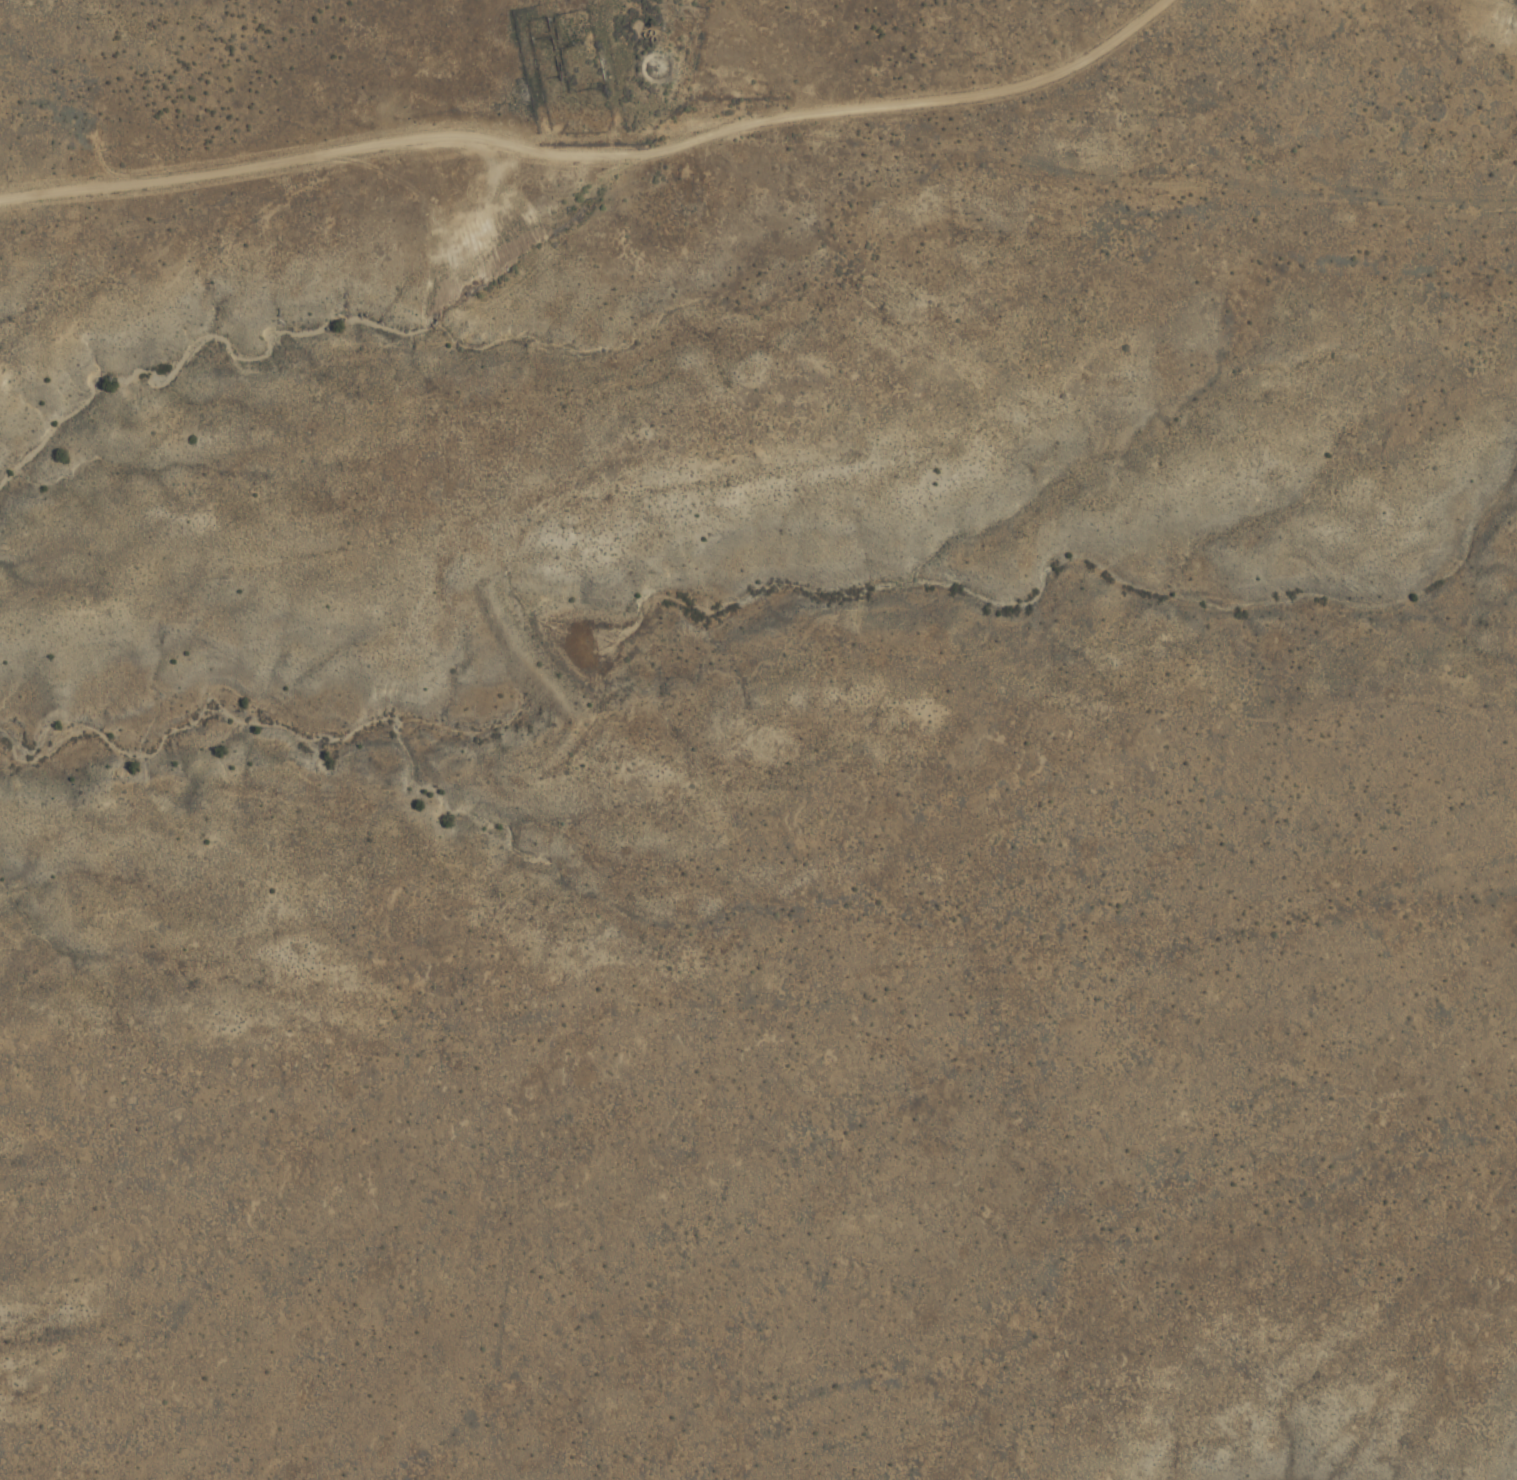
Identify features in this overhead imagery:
road: (596, 145)

